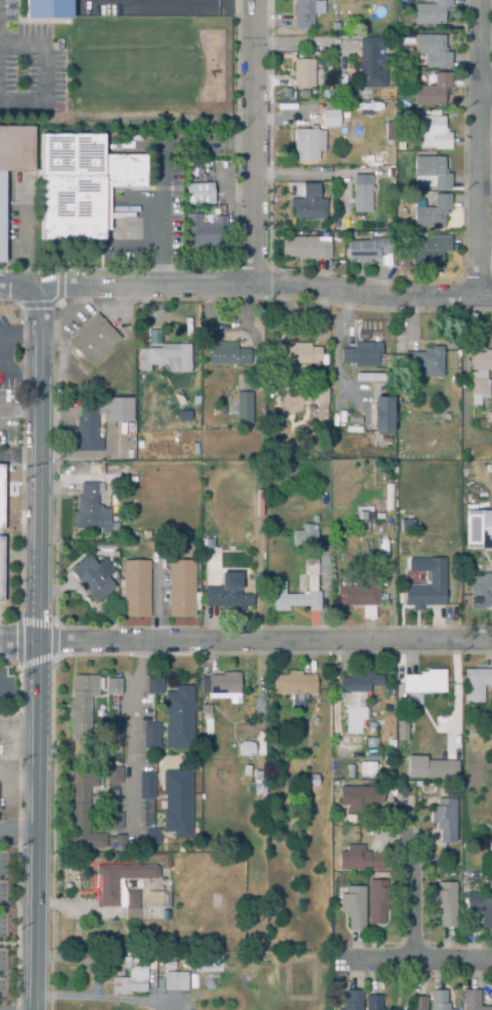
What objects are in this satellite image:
road: (168, 1)
building: (345, 1)
building: (48, 8)
building: (306, 12)
building: (430, 13)
building: (433, 51)
building: (370, 66)
building: (303, 74)
road: (42, 79)
road: (485, 88)
building: (433, 92)
building: (335, 94)
building: (385, 115)
building: (332, 119)
building: (432, 132)
road: (256, 142)
building: (308, 145)
road: (478, 147)
building: (13, 162)
road: (163, 171)
building: (430, 173)
building: (79, 184)
building: (197, 194)
building: (361, 194)
building: (306, 204)
building: (431, 213)
building: (337, 224)
building: (204, 231)
building: (305, 249)
building: (368, 250)
building: (430, 254)
building: (404, 260)
road: (267, 287)
road: (21, 291)
road: (69, 315)
building: (94, 341)
building: (227, 355)
building: (299, 355)
building: (361, 355)
building: (166, 359)
building: (422, 362)
building: (480, 377)
building: (320, 397)
building: (244, 404)
building: (218, 410)
building: (382, 414)
building: (184, 416)
building: (446, 417)
building: (489, 418)
building: (355, 421)
building: (230, 422)
building: (87, 426)
road: (21, 461)
building: (471, 463)
building: (1, 496)
building: (215, 498)
building: (91, 510)
building: (427, 517)
building: (362, 518)
building: (406, 522)
building: (478, 529)
building: (137, 535)
building: (305, 537)
building: (1, 570)
building: (436, 579)
building: (92, 580)
building: (279, 588)
building: (136, 590)
building: (181, 590)
building: (481, 593)
building: (225, 596)
building: (358, 597)
road: (245, 645)
road: (40, 650)
building: (423, 682)
road: (2, 685)
building: (221, 685)
building: (476, 685)
building: (155, 687)
building: (295, 687)
building: (357, 698)
building: (87, 704)
building: (205, 710)
building: (179, 718)
building: (442, 723)
building: (243, 728)
building: (403, 729)
building: (113, 732)
building: (151, 736)
road: (132, 737)
building: (208, 739)
building: (391, 744)
building: (247, 751)
building: (369, 759)
building: (403, 763)
building: (430, 766)
building: (114, 777)
building: (307, 781)
building: (260, 783)
building: (146, 787)
building: (359, 798)
building: (177, 804)
building: (83, 815)
building: (445, 818)
building: (114, 823)
road: (20, 831)
building: (152, 837)
building: (120, 843)
building: (359, 860)
building: (153, 886)
building: (109, 894)
road: (411, 894)
building: (378, 901)
building: (156, 902)
building: (445, 904)
building: (131, 907)
road: (67, 908)
building: (353, 908)
building: (480, 908)
road: (426, 956)
building: (185, 959)
building: (206, 962)
building: (170, 966)
building: (130, 982)
building: (175, 982)
road: (103, 1000)
building: (353, 1000)
building: (439, 1001)
building: (472, 1001)
building: (373, 1003)
building: (418, 1004)
building: (184, 1007)

